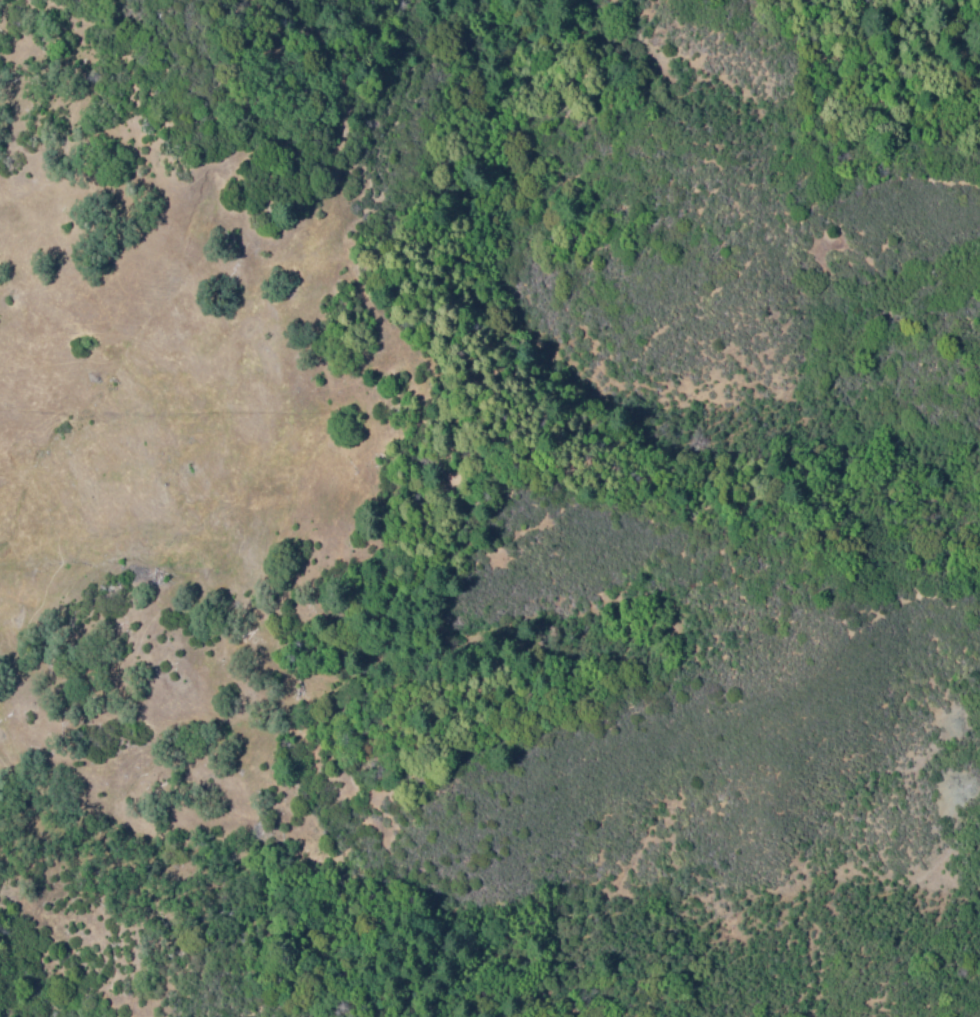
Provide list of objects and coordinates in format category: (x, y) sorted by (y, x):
road: (95, 953)

